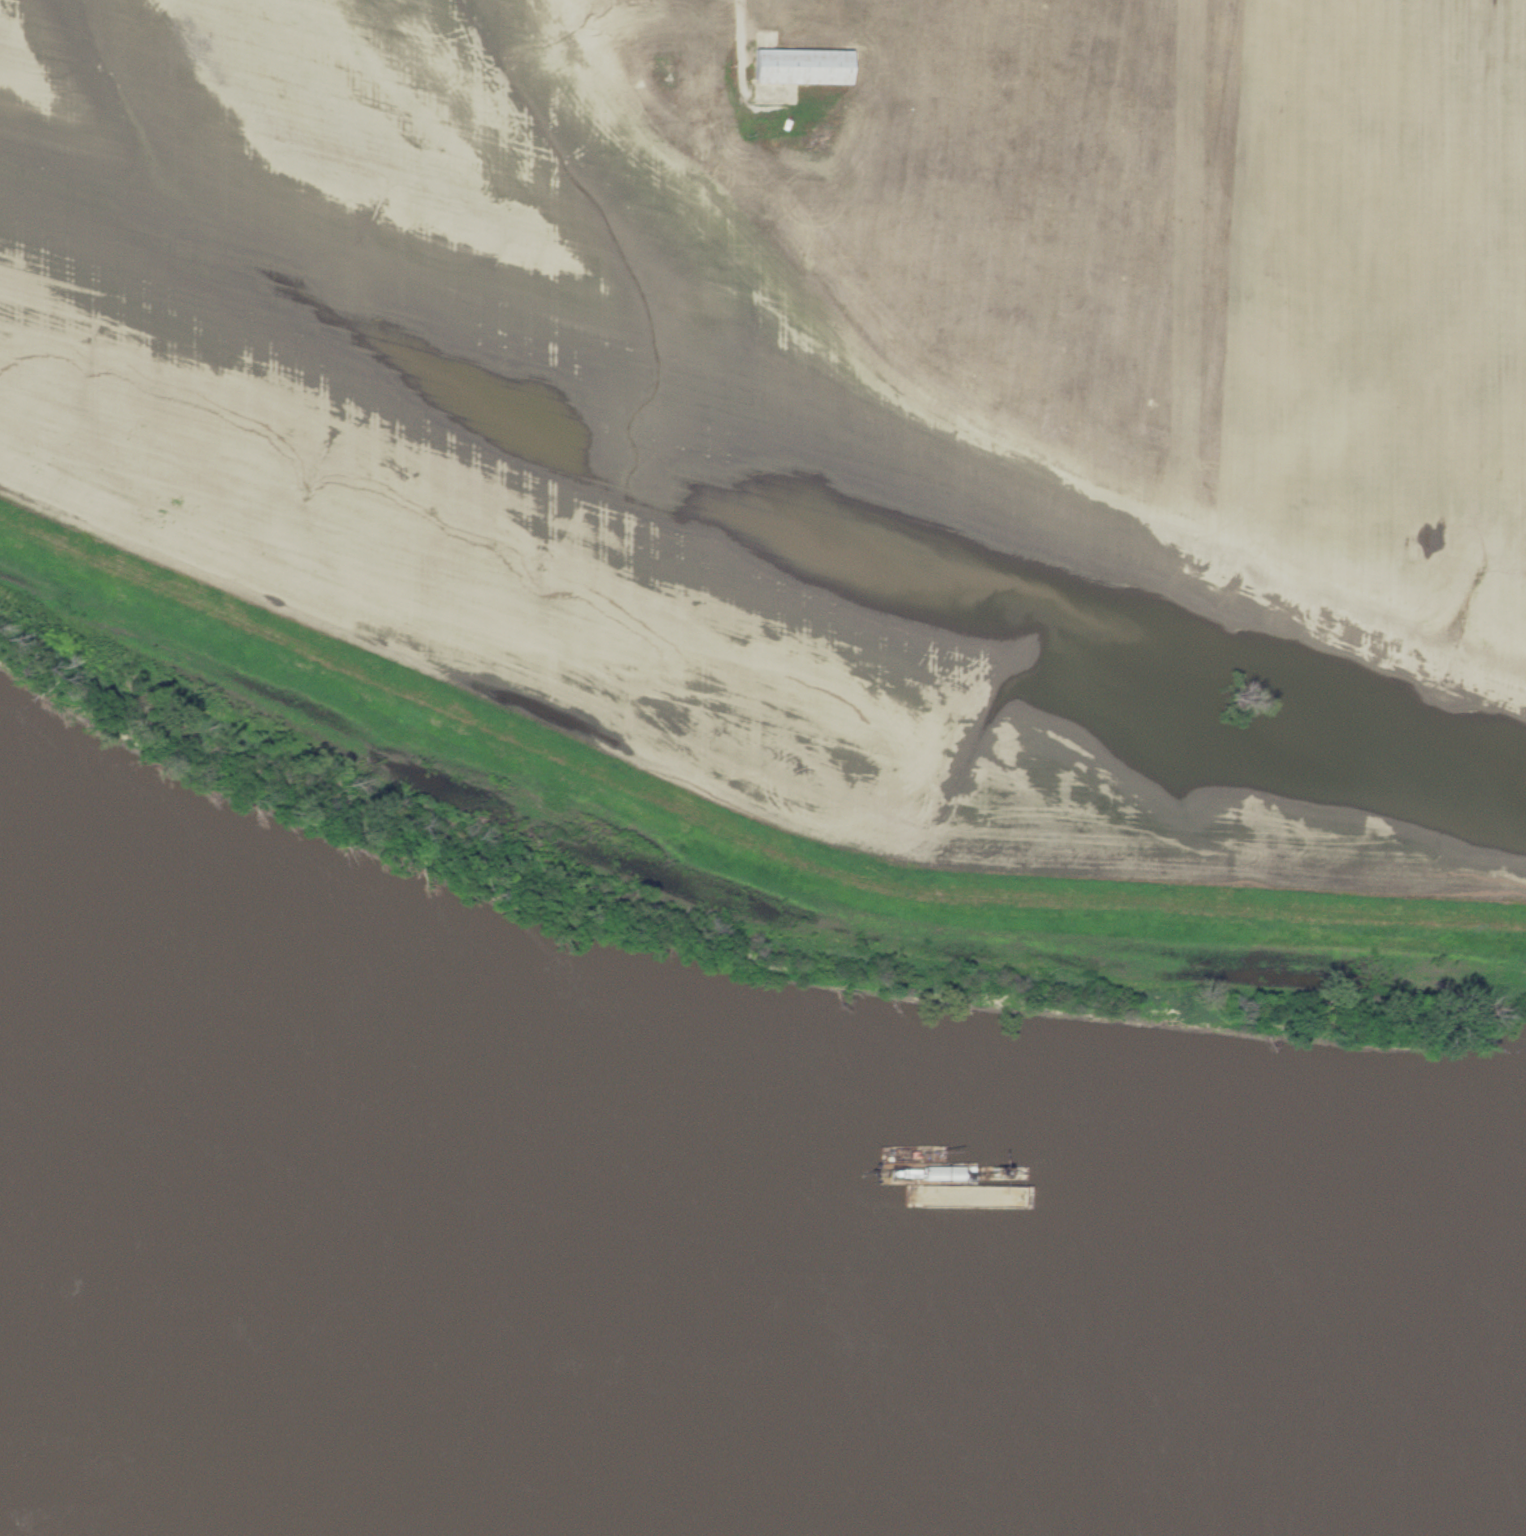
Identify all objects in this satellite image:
road: (731, 40)
building: (801, 65)
river: (759, 1374)

